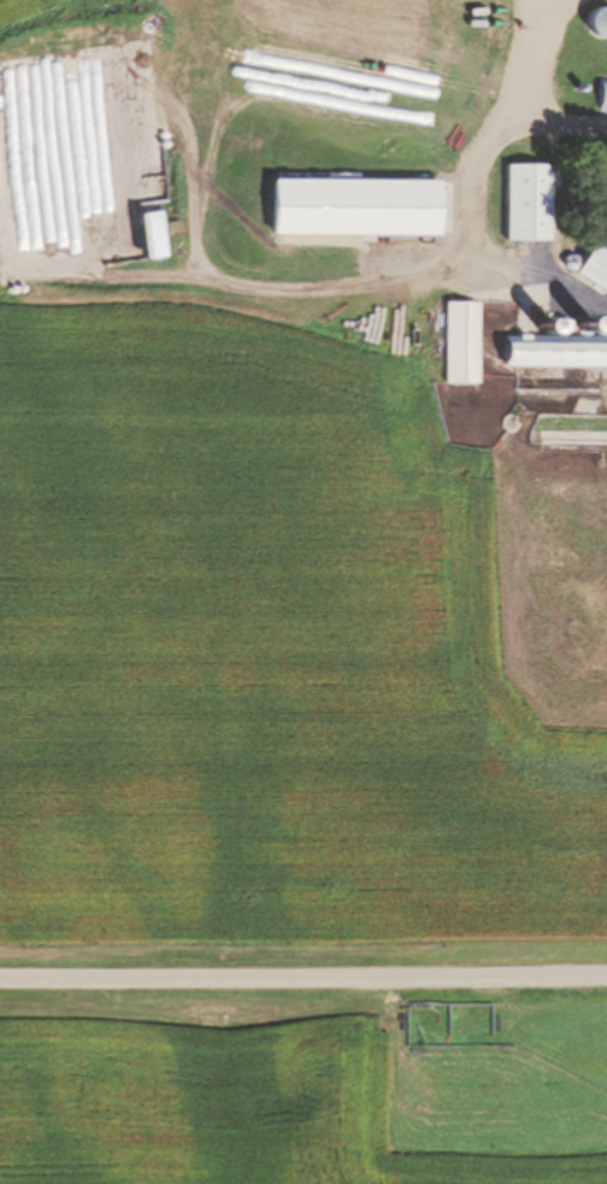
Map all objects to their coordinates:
building: (526, 203)
building: (352, 207)
building: (594, 268)
building: (459, 342)
building: (555, 351)
road: (302, 971)

